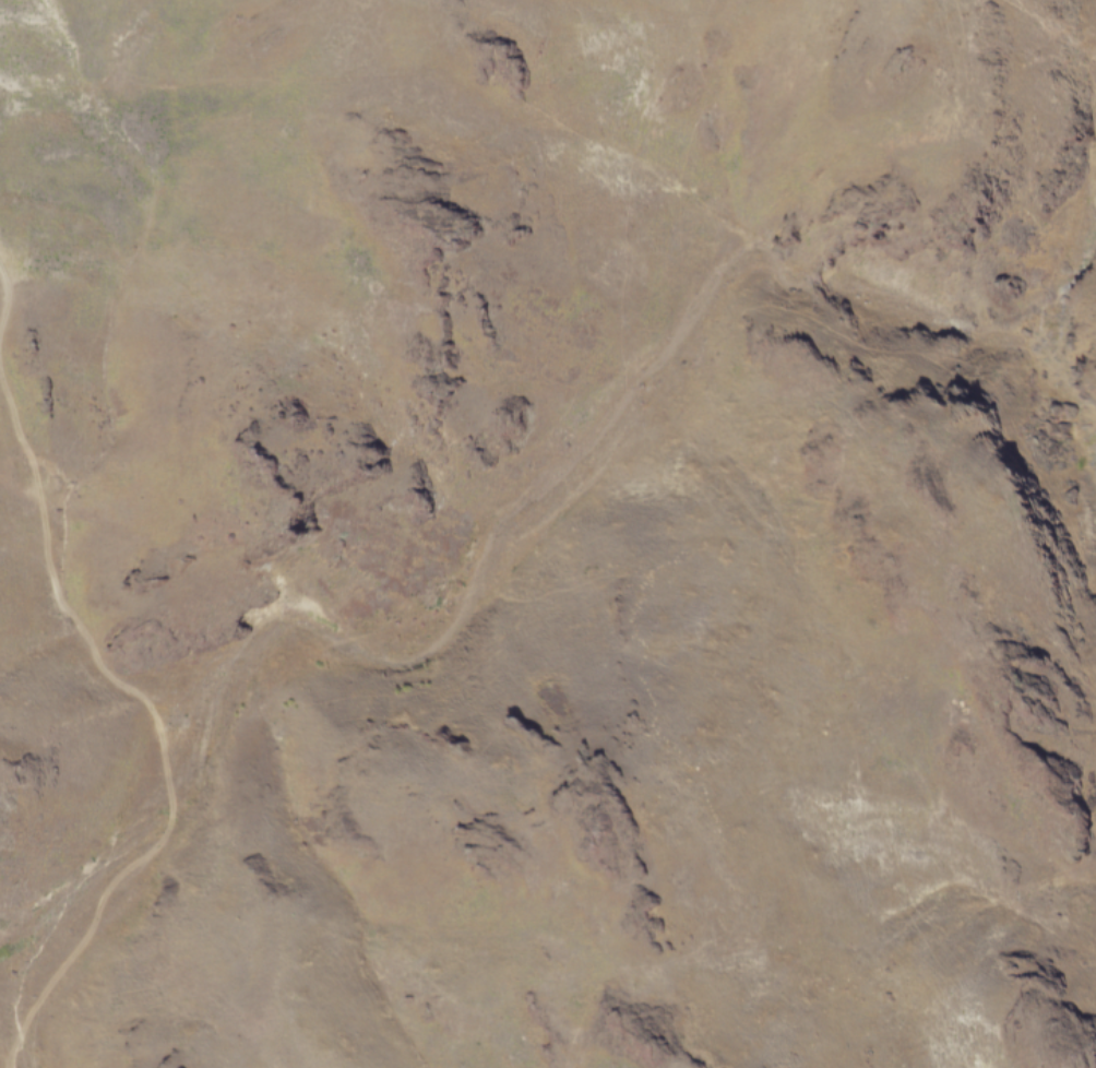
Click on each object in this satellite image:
road: (5, 296)
road: (155, 722)

